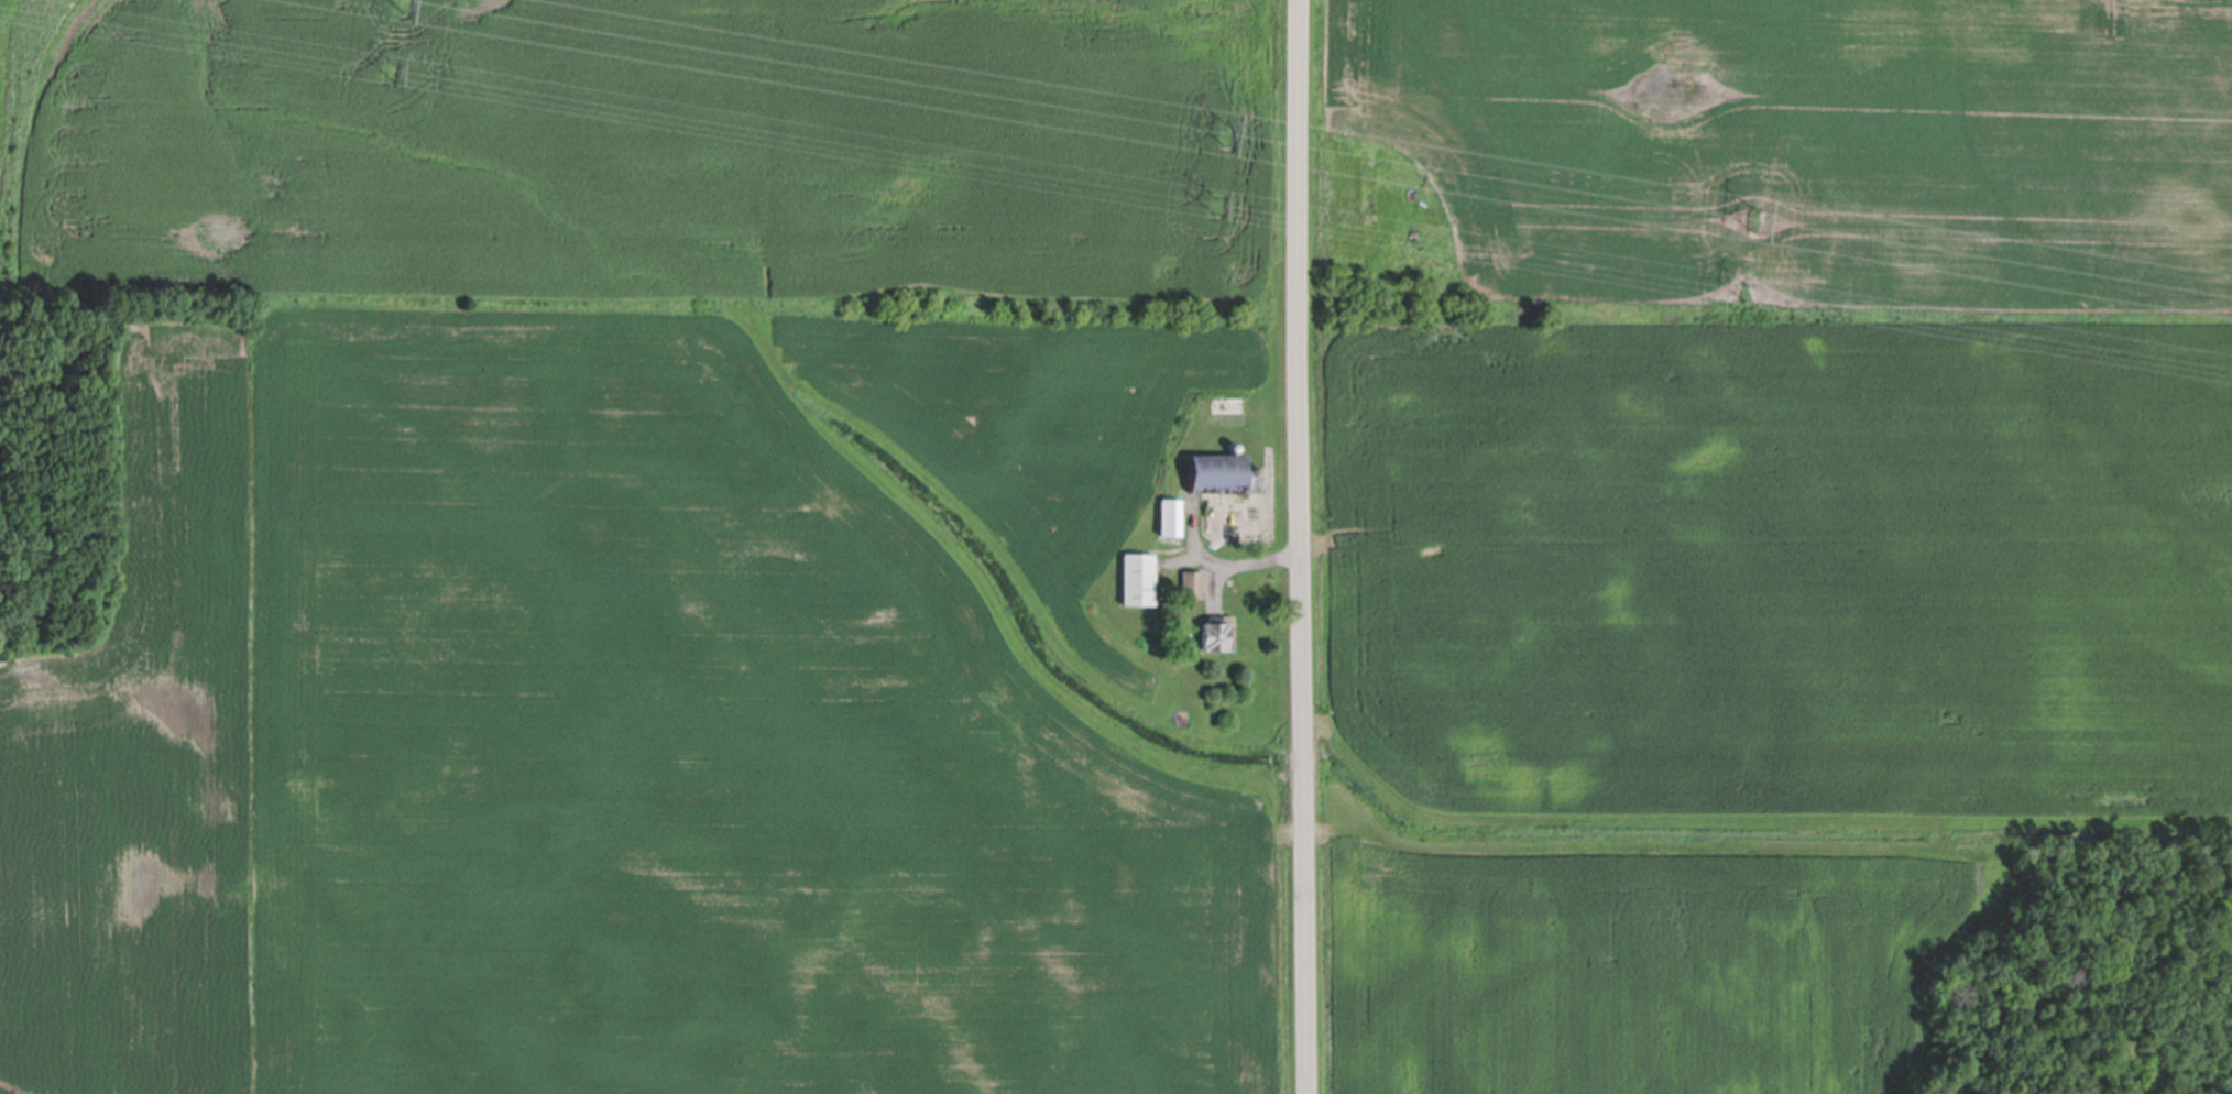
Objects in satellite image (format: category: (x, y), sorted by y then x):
power tower: (404, 1)
power tower: (391, 70)
power tower: (1222, 134)
power tower: (1214, 204)
power tower: (1753, 220)
power tower: (1743, 289)
building: (1226, 405)
building: (1232, 447)
building: (1223, 477)
building: (1168, 519)
road: (1302, 547)
building: (1136, 581)
building: (1190, 586)
building: (1216, 636)

